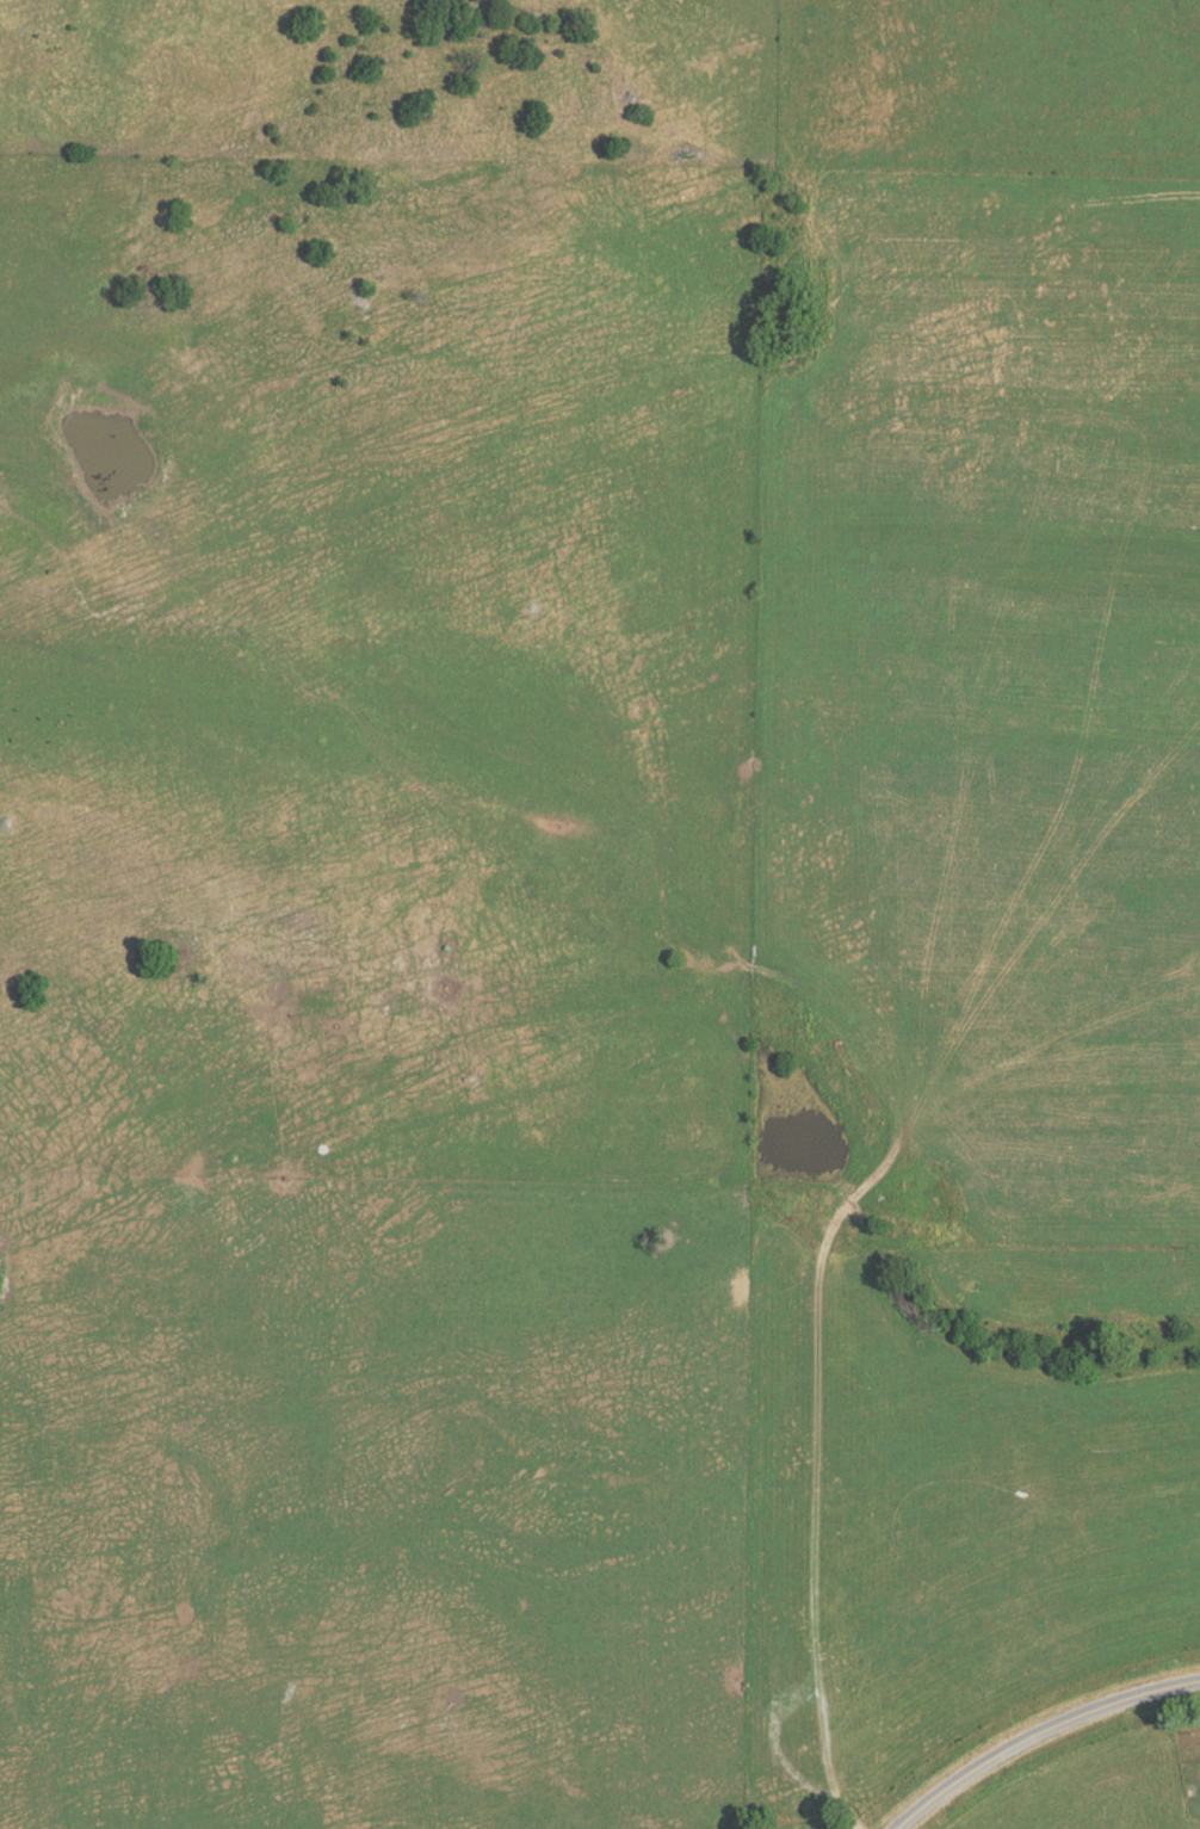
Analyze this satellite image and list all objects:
road: (1041, 1736)

